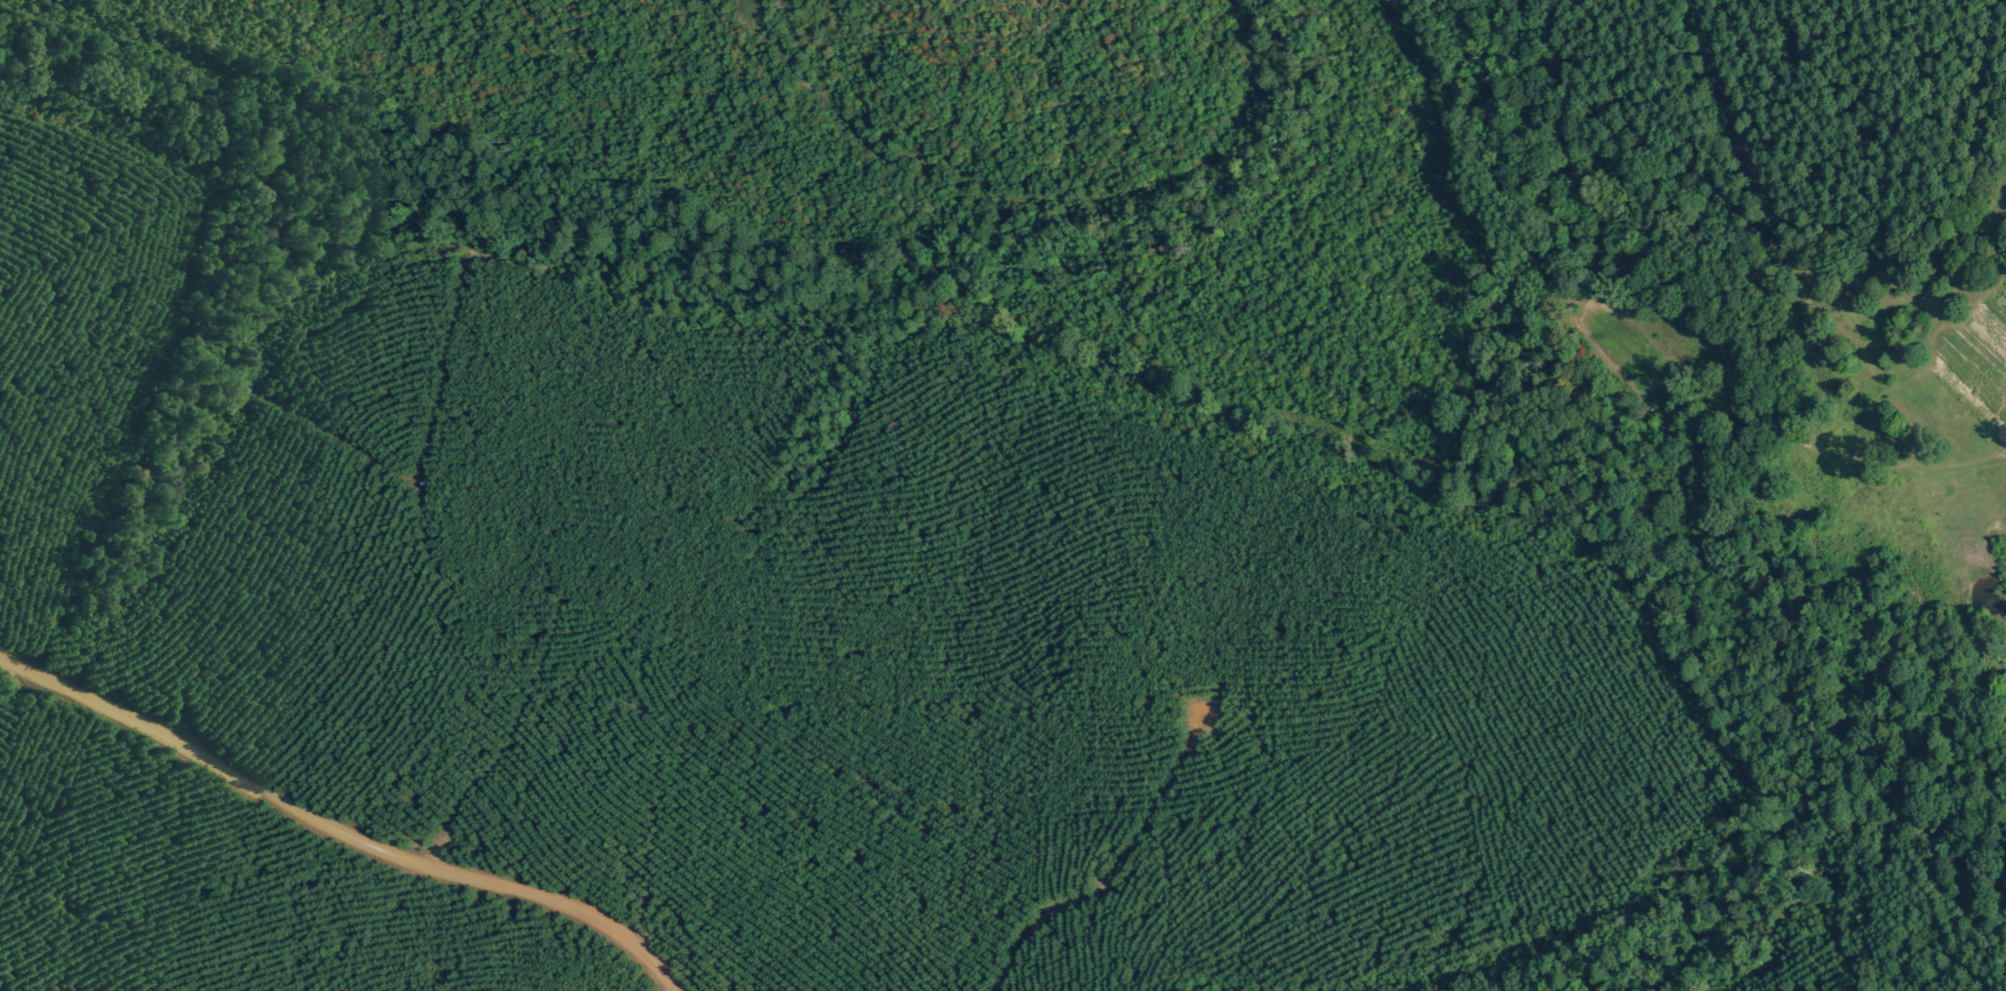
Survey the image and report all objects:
road: (324, 821)

